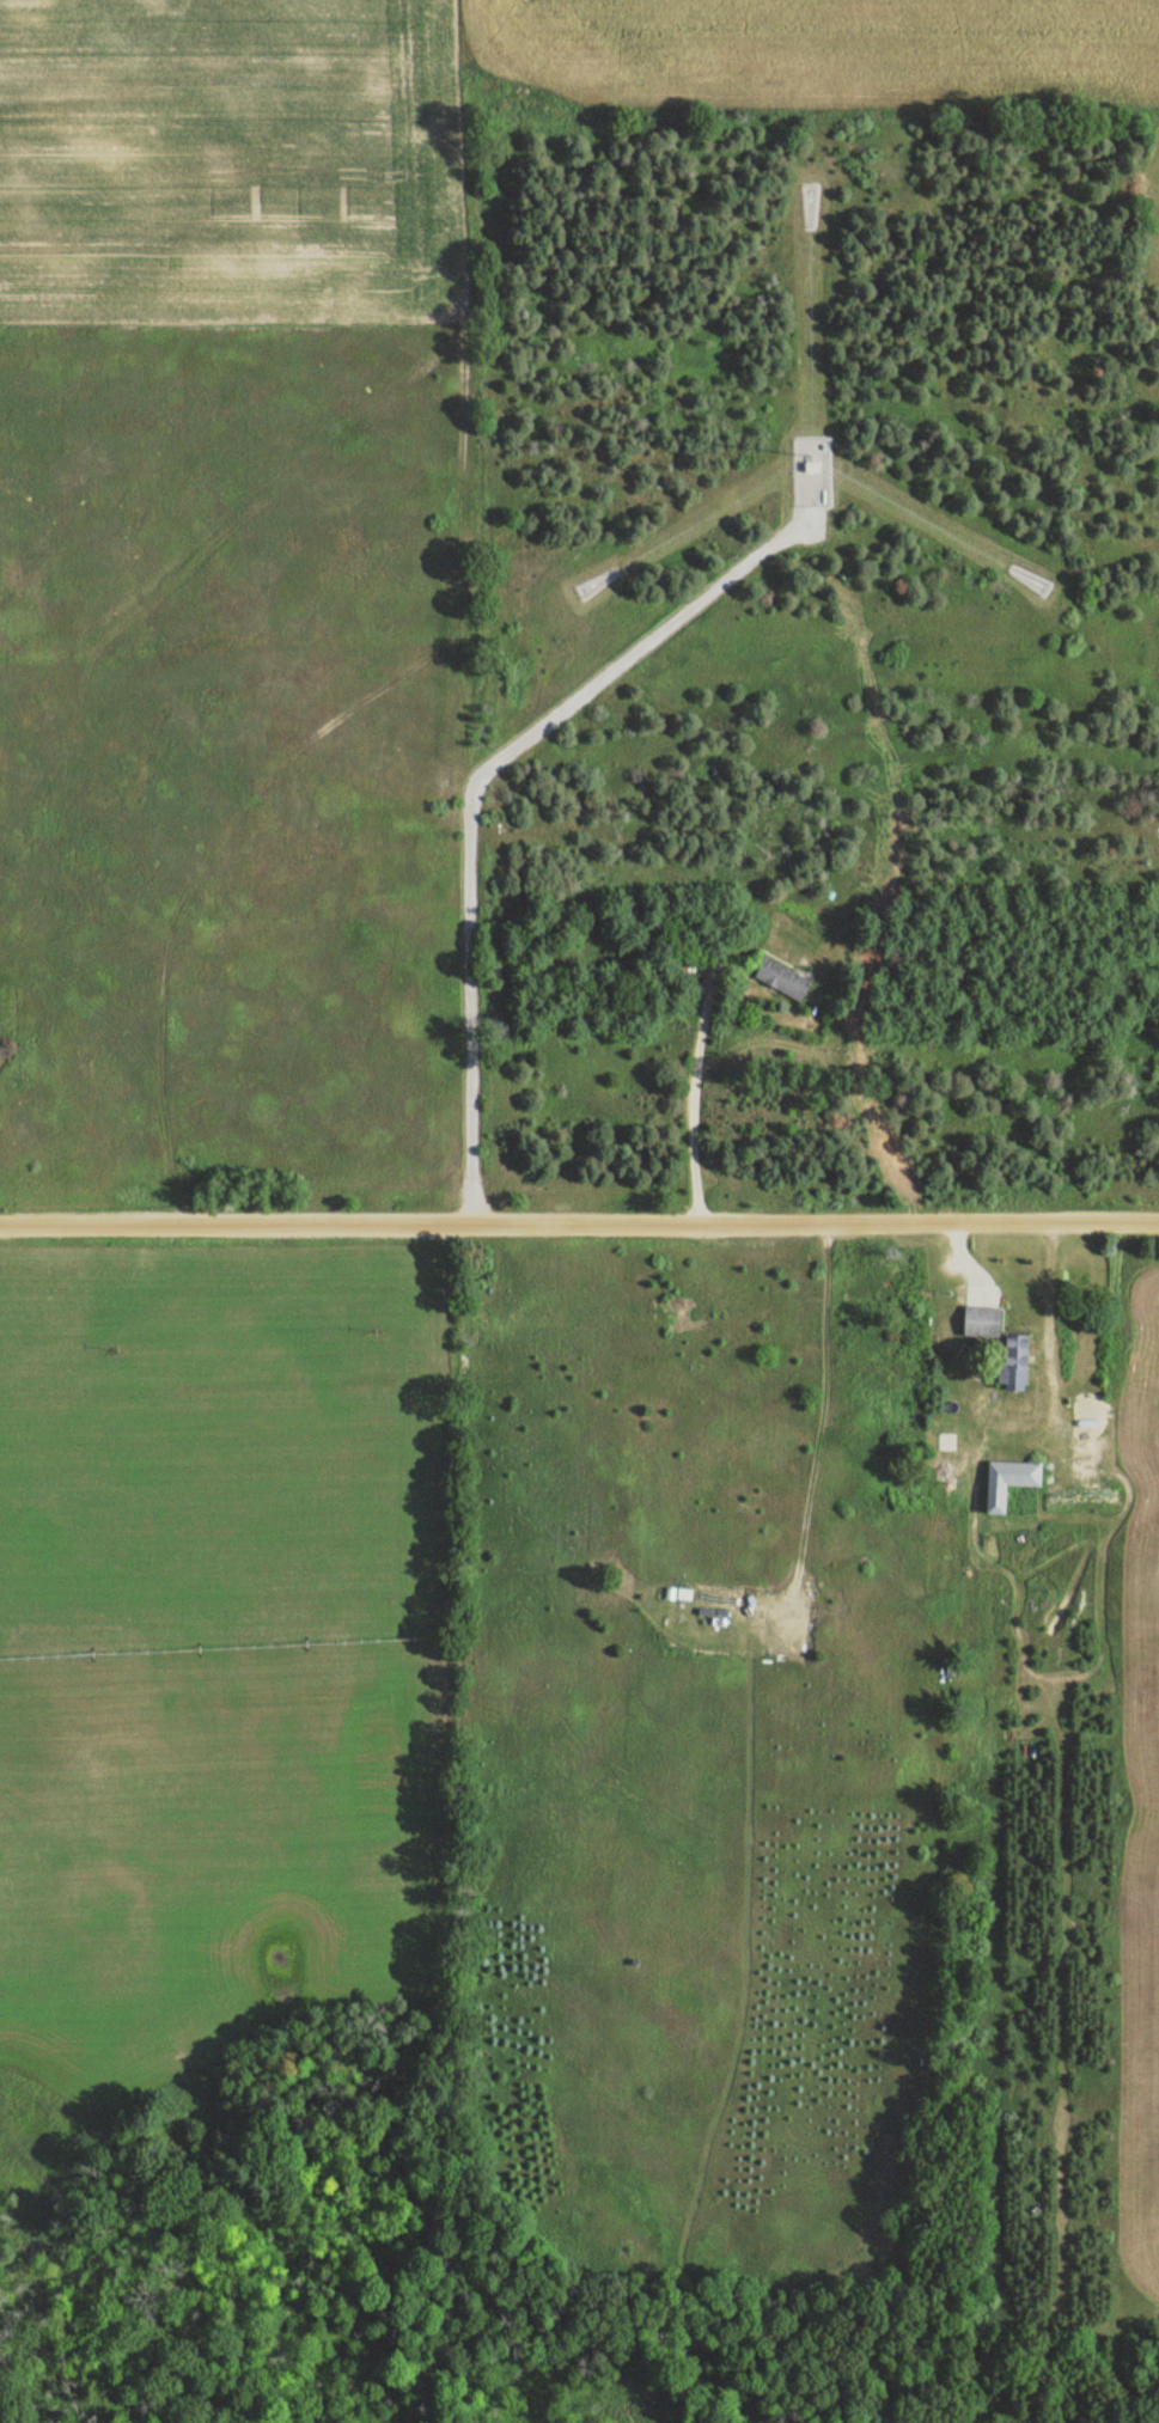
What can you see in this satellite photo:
road: (476, 789)
building: (688, 971)
building: (781, 981)
road: (689, 1094)
road: (579, 1225)
building: (996, 1345)
building: (1005, 1484)
building: (709, 1615)

